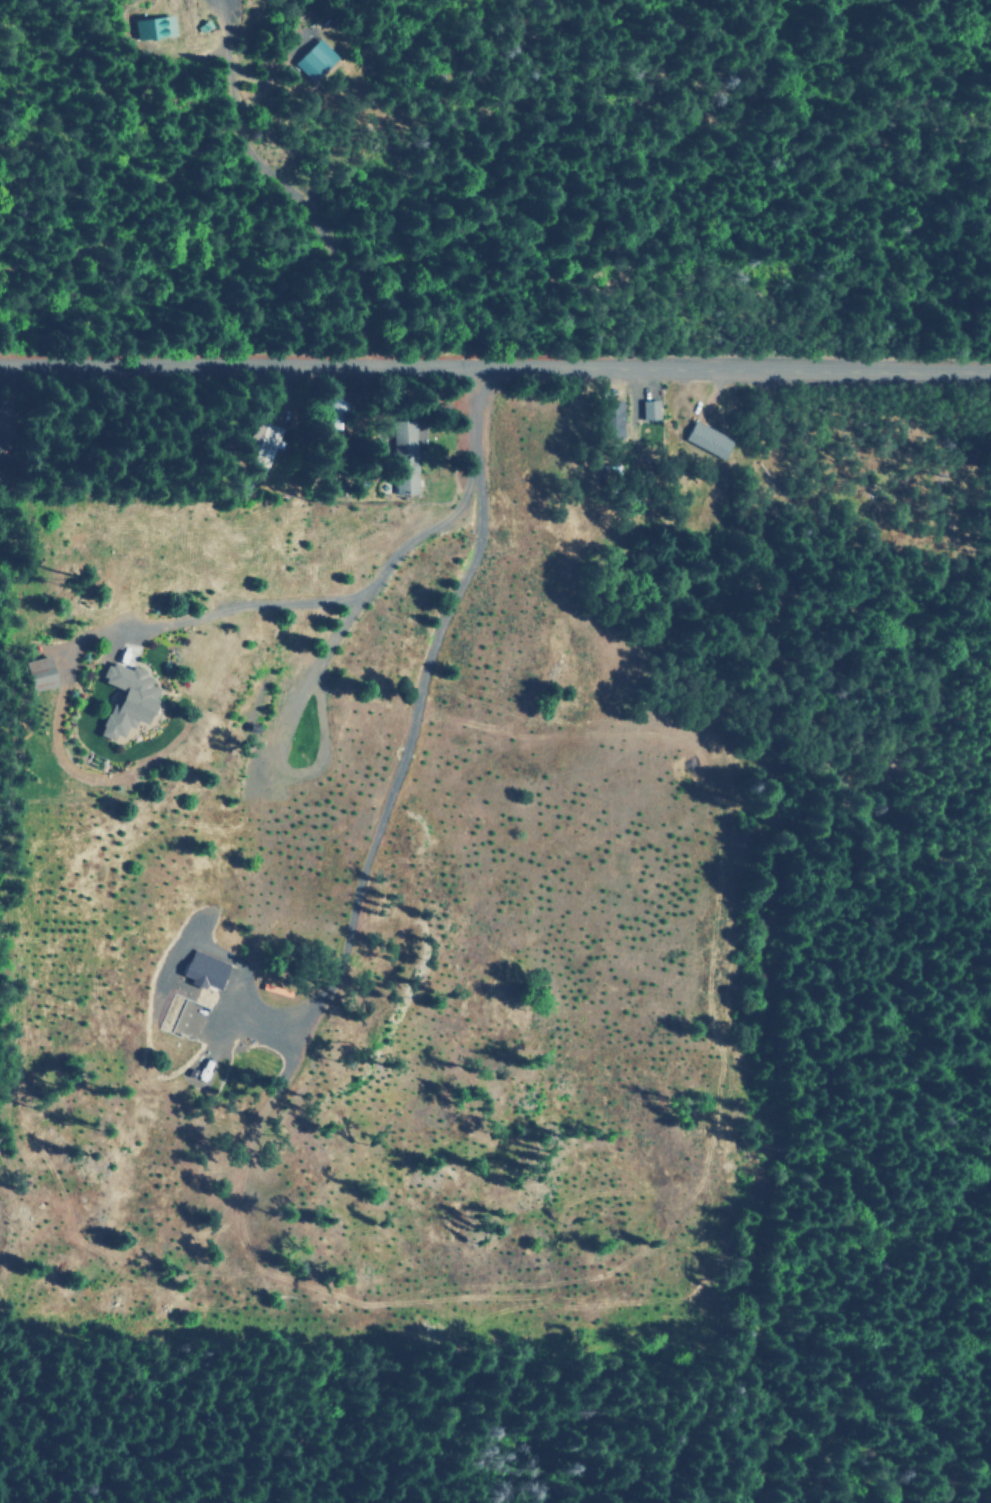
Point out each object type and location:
road: (495, 362)

